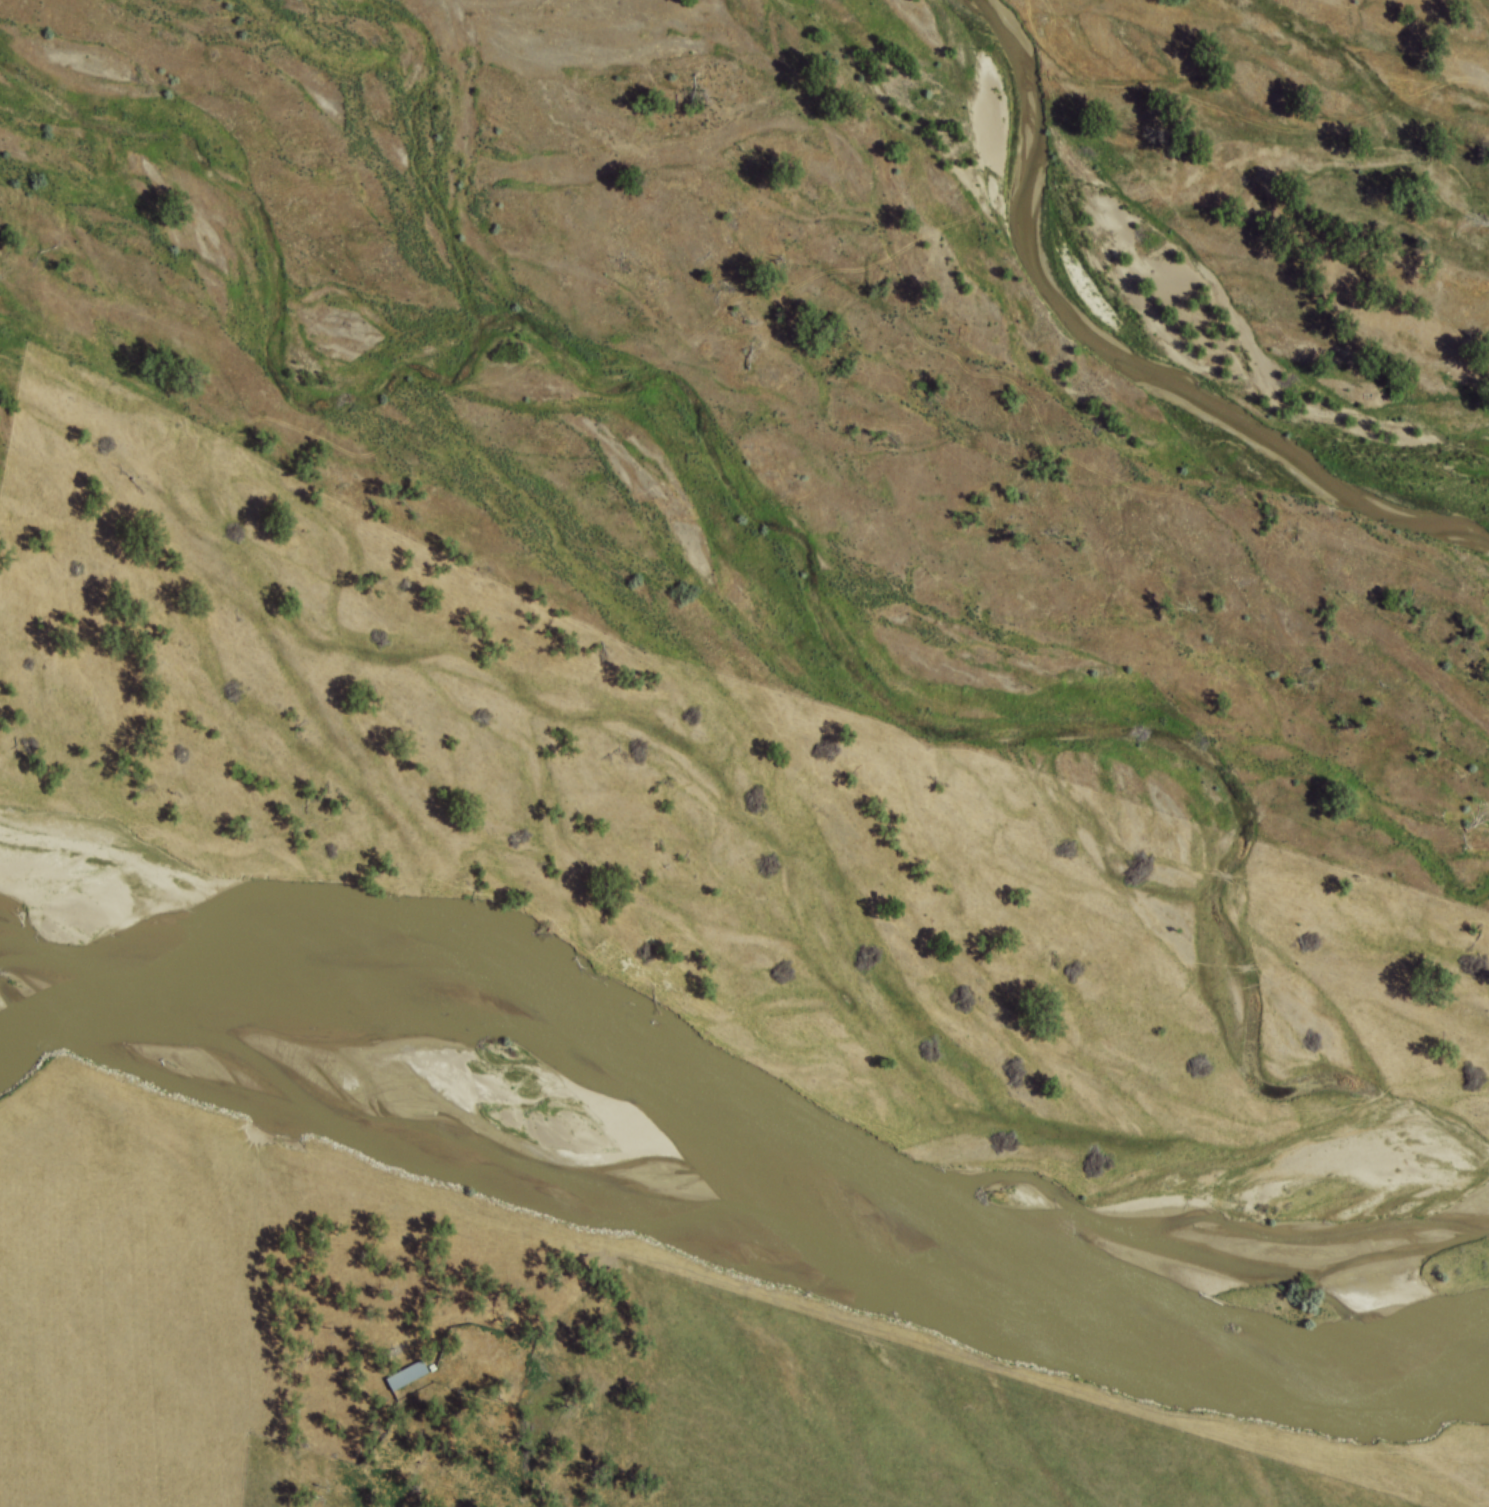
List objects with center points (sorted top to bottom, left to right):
river: (732, 1216)
building: (401, 1380)

